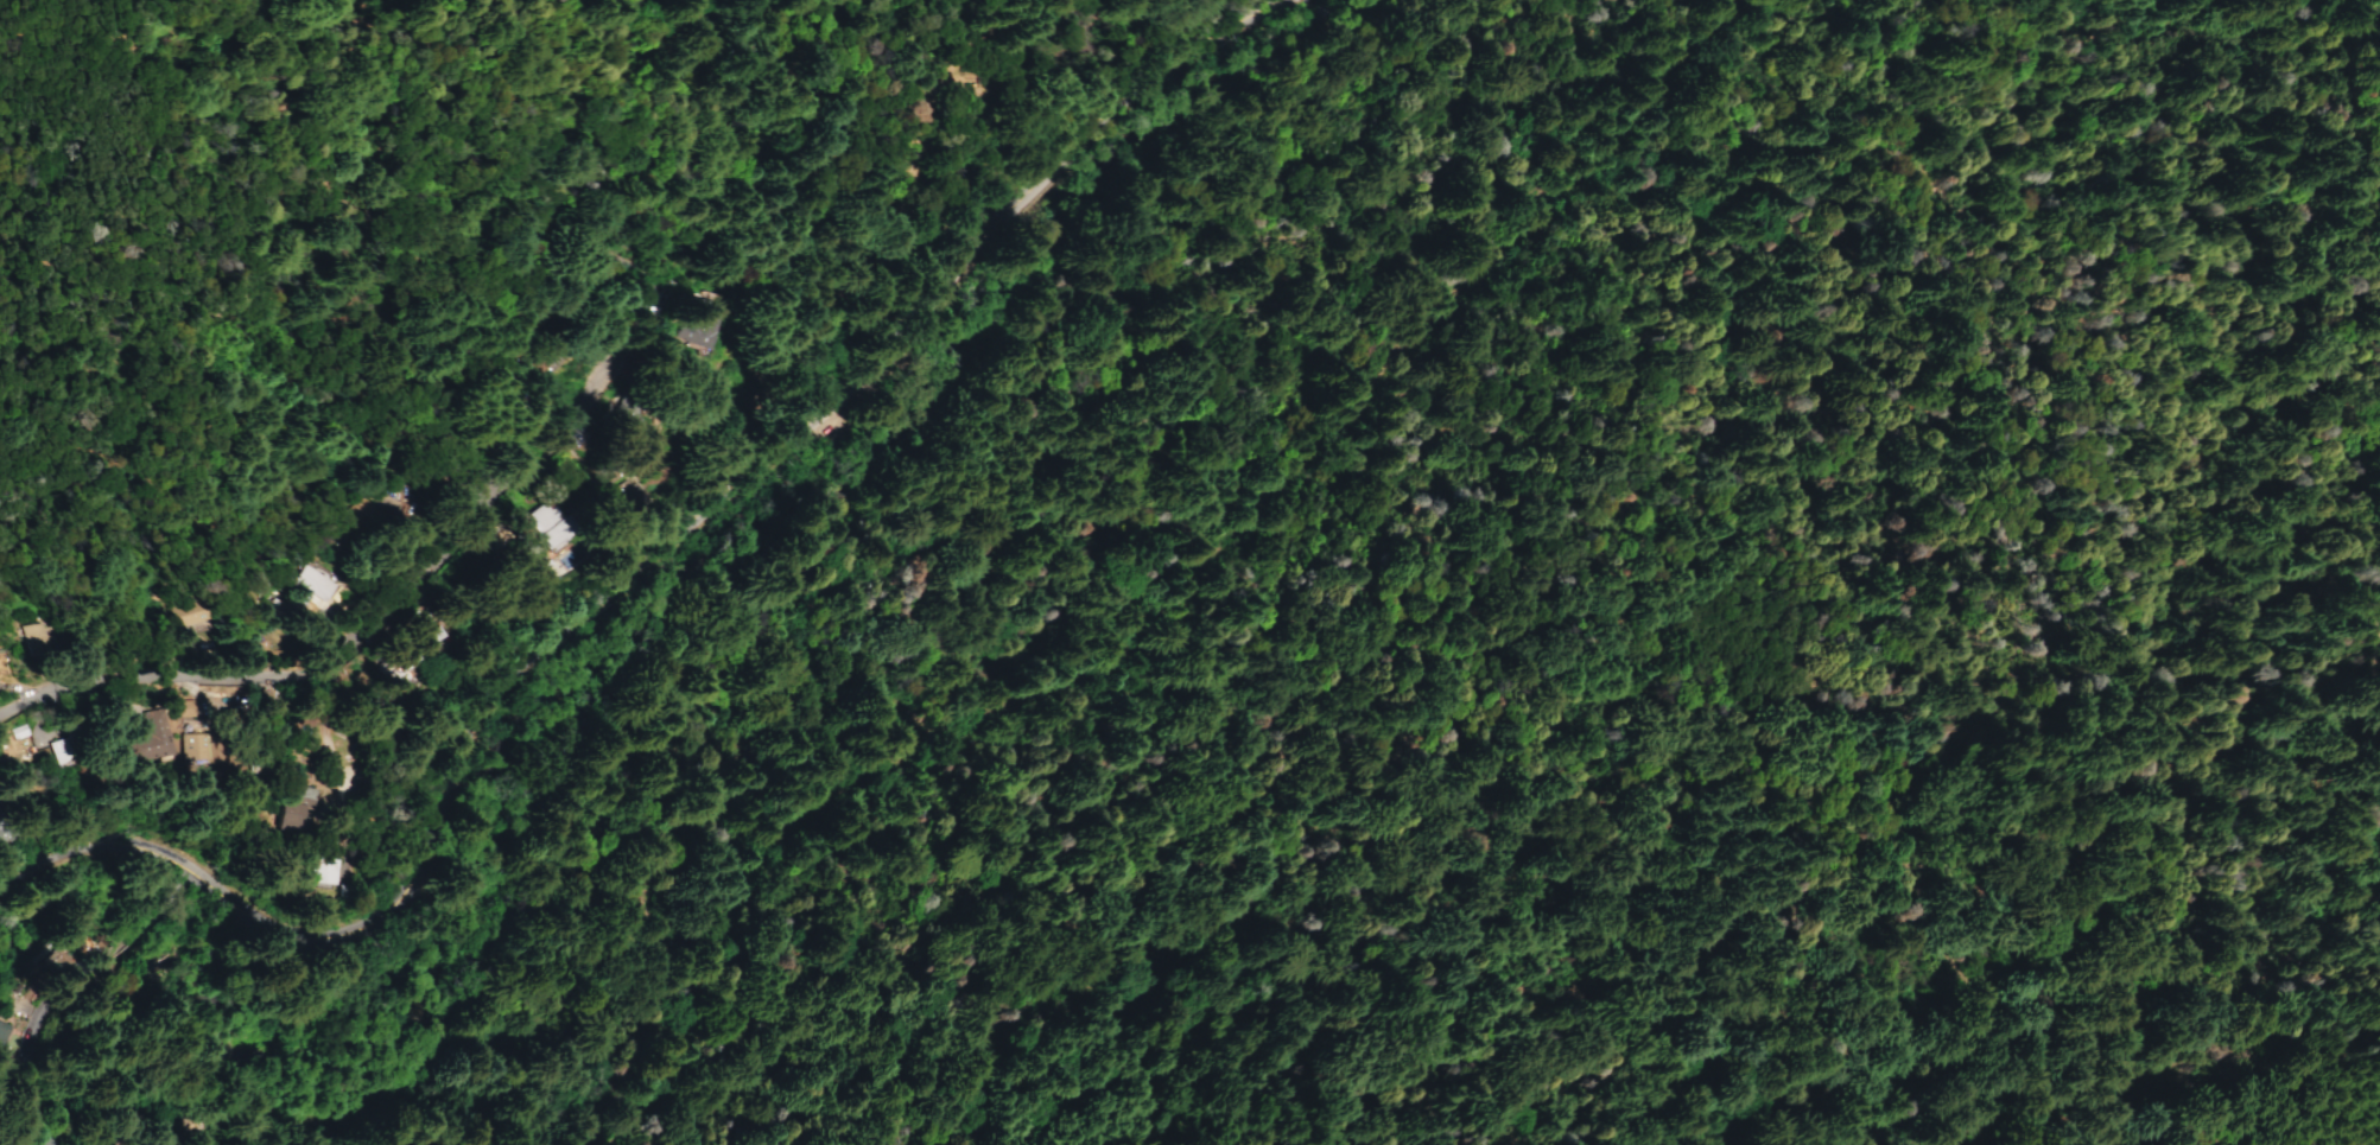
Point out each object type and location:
building: (709, 323)
building: (372, 515)
building: (552, 524)
road: (1201, 570)
road: (643, 575)
building: (317, 584)
building: (189, 615)
road: (348, 616)
building: (34, 638)
building: (405, 667)
building: (180, 708)
building: (150, 738)
building: (192, 746)
building: (293, 809)
road: (71, 819)
building: (320, 861)
road: (108, 869)
road: (113, 910)
road: (59, 1004)

